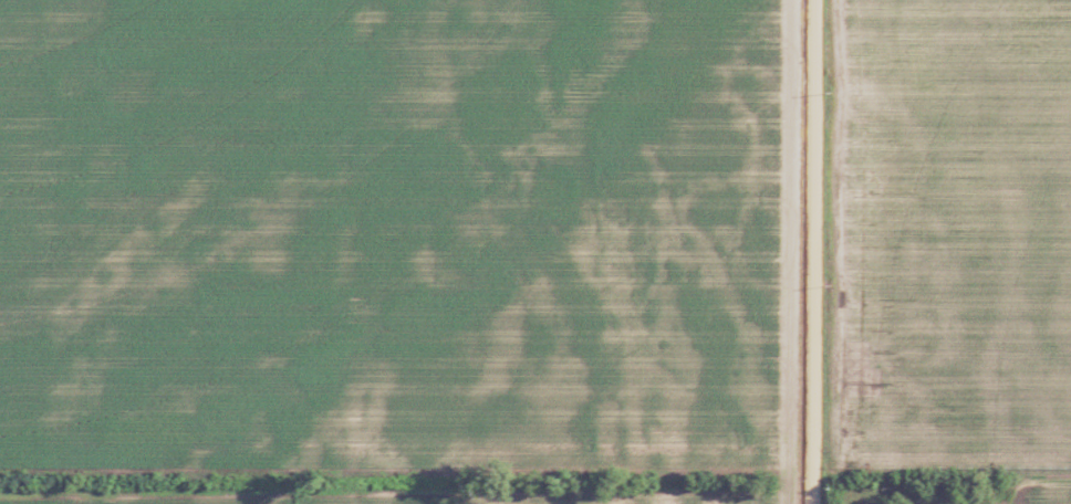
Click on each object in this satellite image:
road: (819, 252)

